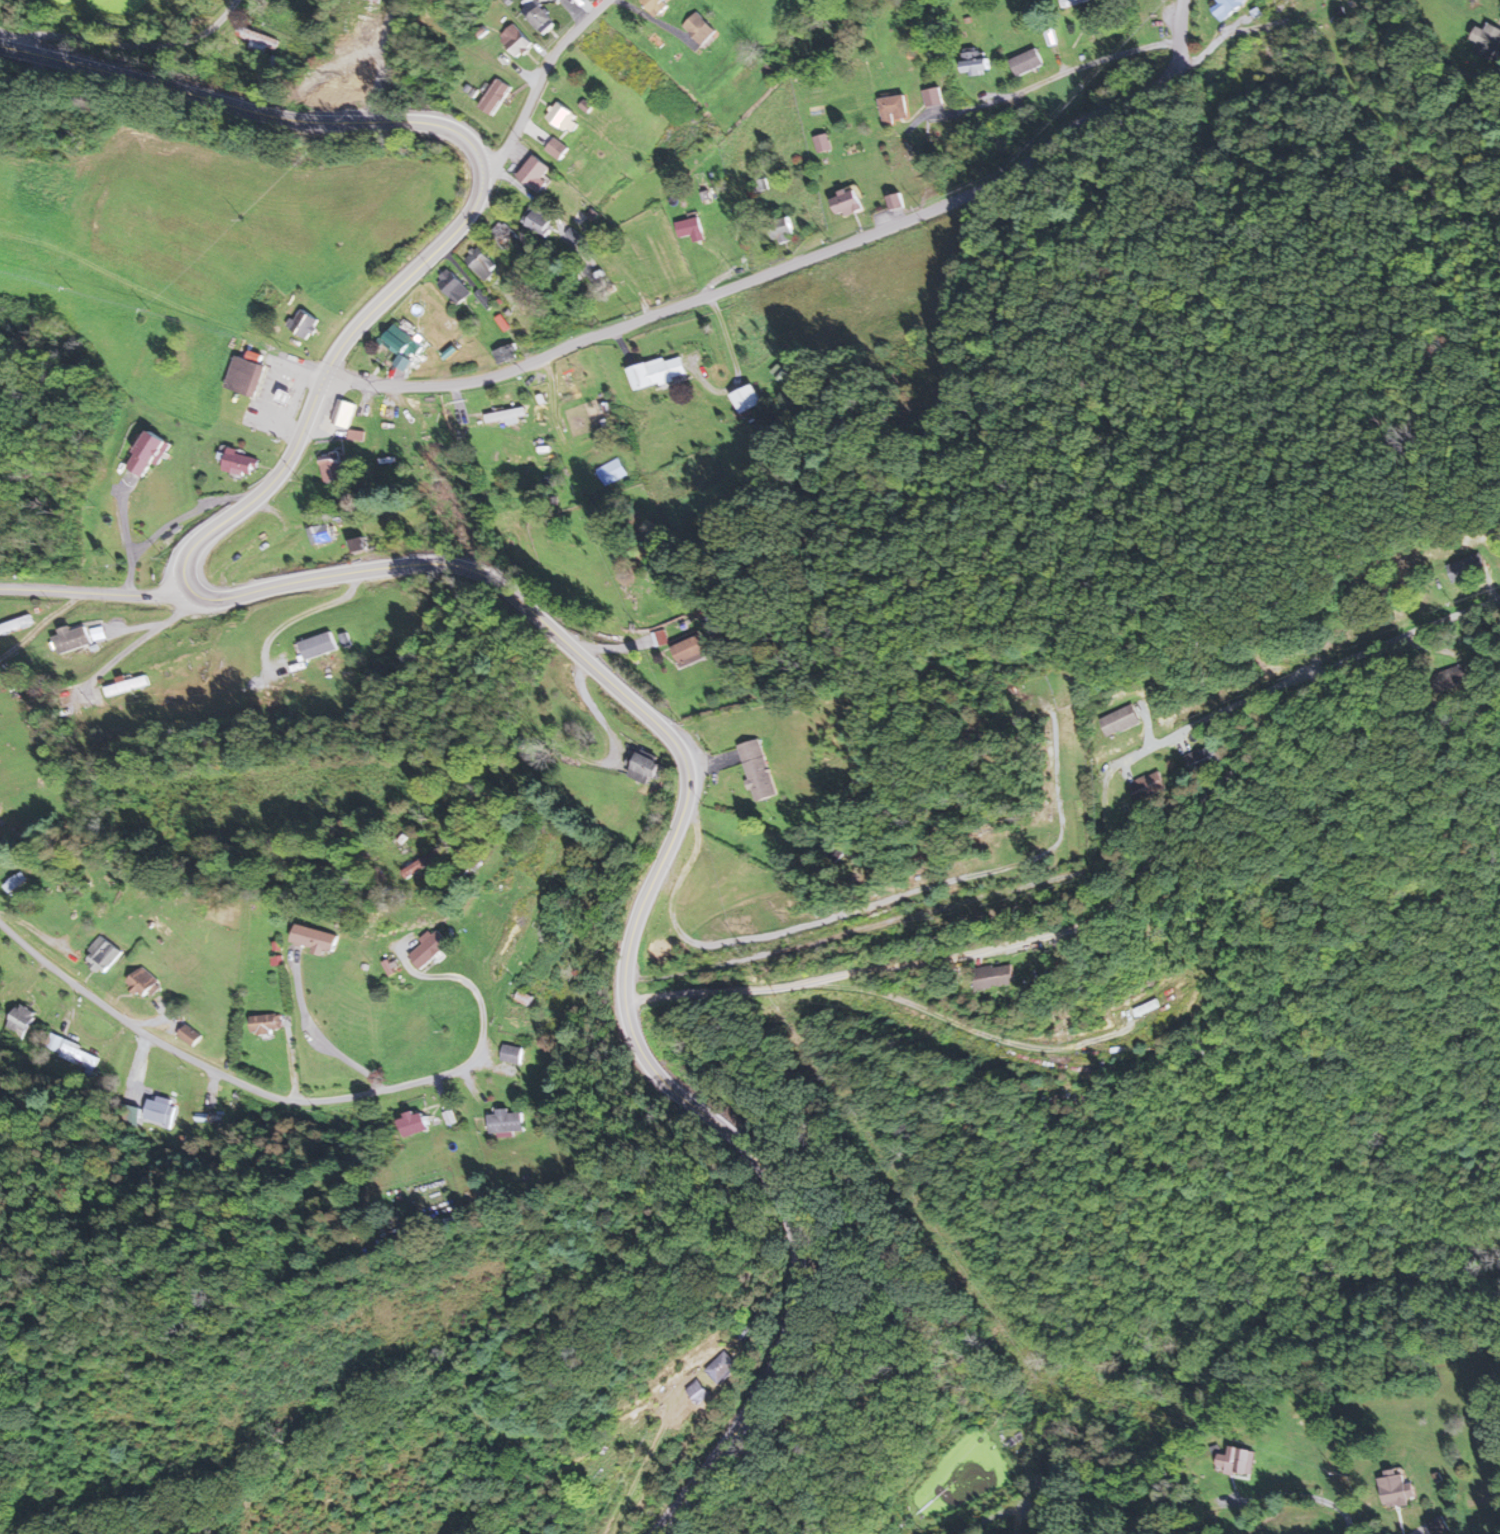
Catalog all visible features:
building: (557, 0)
building: (1073, 2)
building: (656, 5)
building: (1228, 7)
building: (539, 16)
building: (697, 31)
building: (515, 40)
road: (132, 41)
building: (1487, 42)
road: (381, 60)
building: (1026, 63)
building: (974, 64)
building: (362, 70)
road: (537, 86)
building: (324, 91)
building: (495, 97)
building: (932, 97)
building: (894, 109)
building: (563, 118)
building: (822, 143)
building: (556, 149)
building: (534, 174)
road: (483, 182)
building: (847, 203)
building: (586, 217)
building: (537, 221)
building: (689, 227)
building: (783, 230)
building: (505, 237)
road: (801, 258)
building: (481, 264)
building: (453, 287)
building: (303, 324)
building: (398, 339)
building: (505, 354)
building: (658, 372)
building: (246, 373)
building: (572, 379)
building: (745, 399)
building: (346, 414)
building: (425, 414)
building: (504, 415)
building: (147, 454)
building: (238, 463)
building: (612, 472)
building: (546, 484)
building: (321, 534)
building: (359, 544)
building: (1466, 568)
road: (92, 591)
building: (72, 640)
building: (318, 646)
building: (690, 648)
building: (127, 686)
road: (1307, 702)
building: (1119, 721)
building: (1205, 760)
building: (643, 769)
building: (758, 770)
building: (1149, 787)
building: (14, 883)
road: (636, 905)
road: (908, 931)
building: (314, 939)
building: (428, 950)
building: (102, 956)
building: (994, 977)
building: (143, 984)
building: (1145, 1008)
building: (286, 1020)
building: (20, 1021)
building: (265, 1025)
building: (189, 1036)
building: (73, 1053)
building: (511, 1054)
road: (225, 1075)
building: (135, 1076)
building: (156, 1105)
building: (207, 1120)
building: (506, 1121)
building: (413, 1122)
building: (746, 1332)
building: (721, 1367)
building: (697, 1391)
building: (1238, 1461)
building: (1398, 1490)

